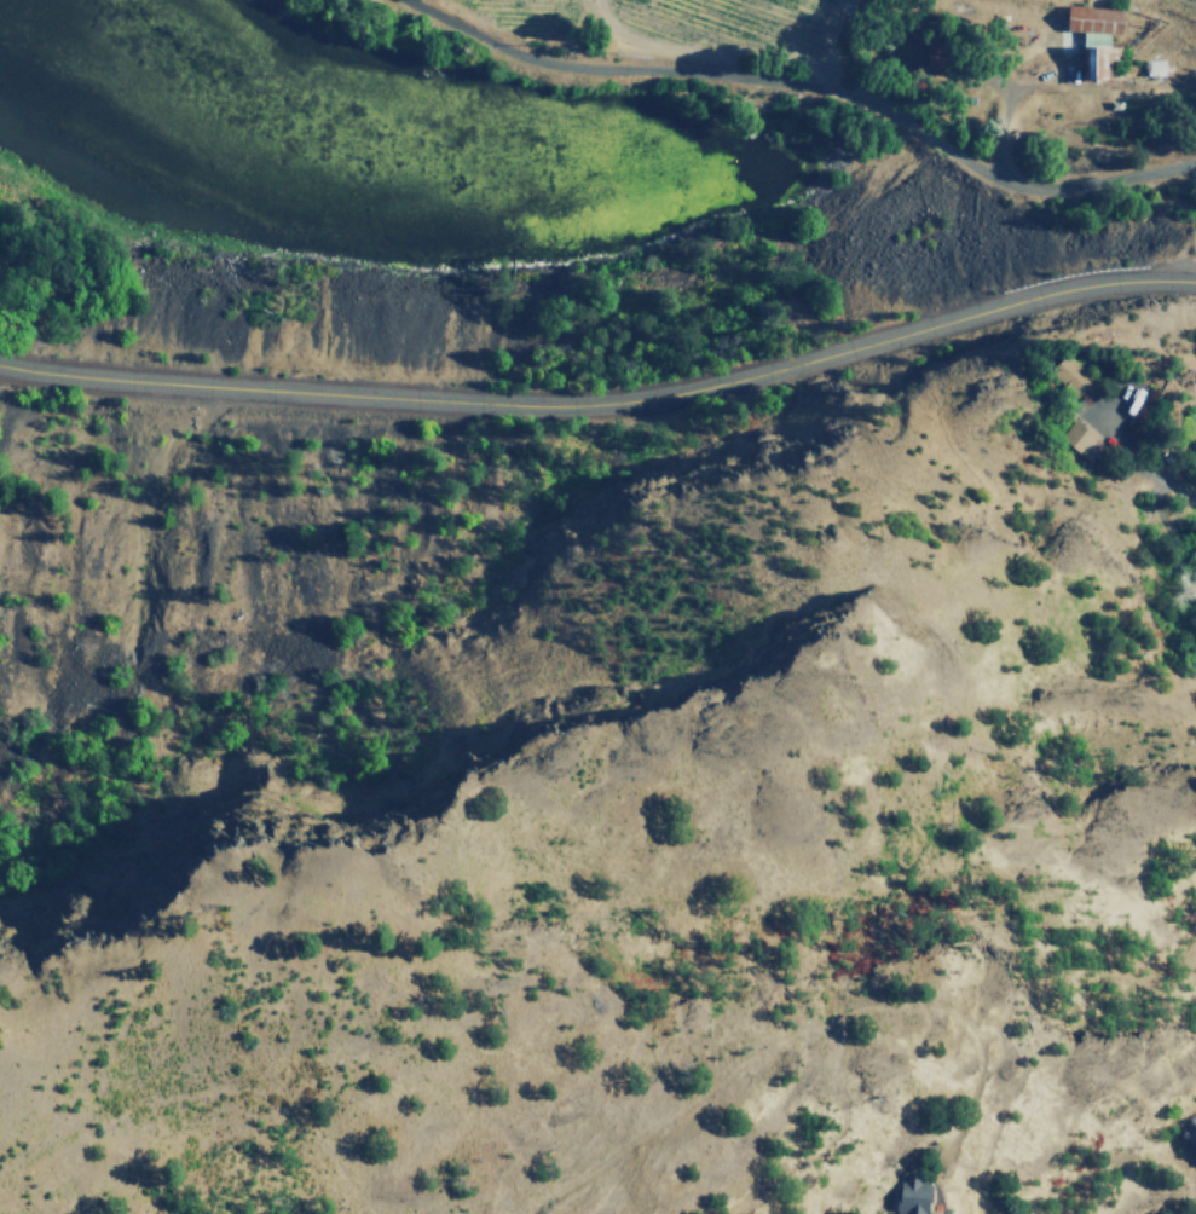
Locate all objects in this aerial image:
building: (1091, 19)
road: (809, 89)
building: (1071, 376)
road: (603, 400)
road: (1148, 470)
building: (1191, 1134)
building: (911, 1195)

